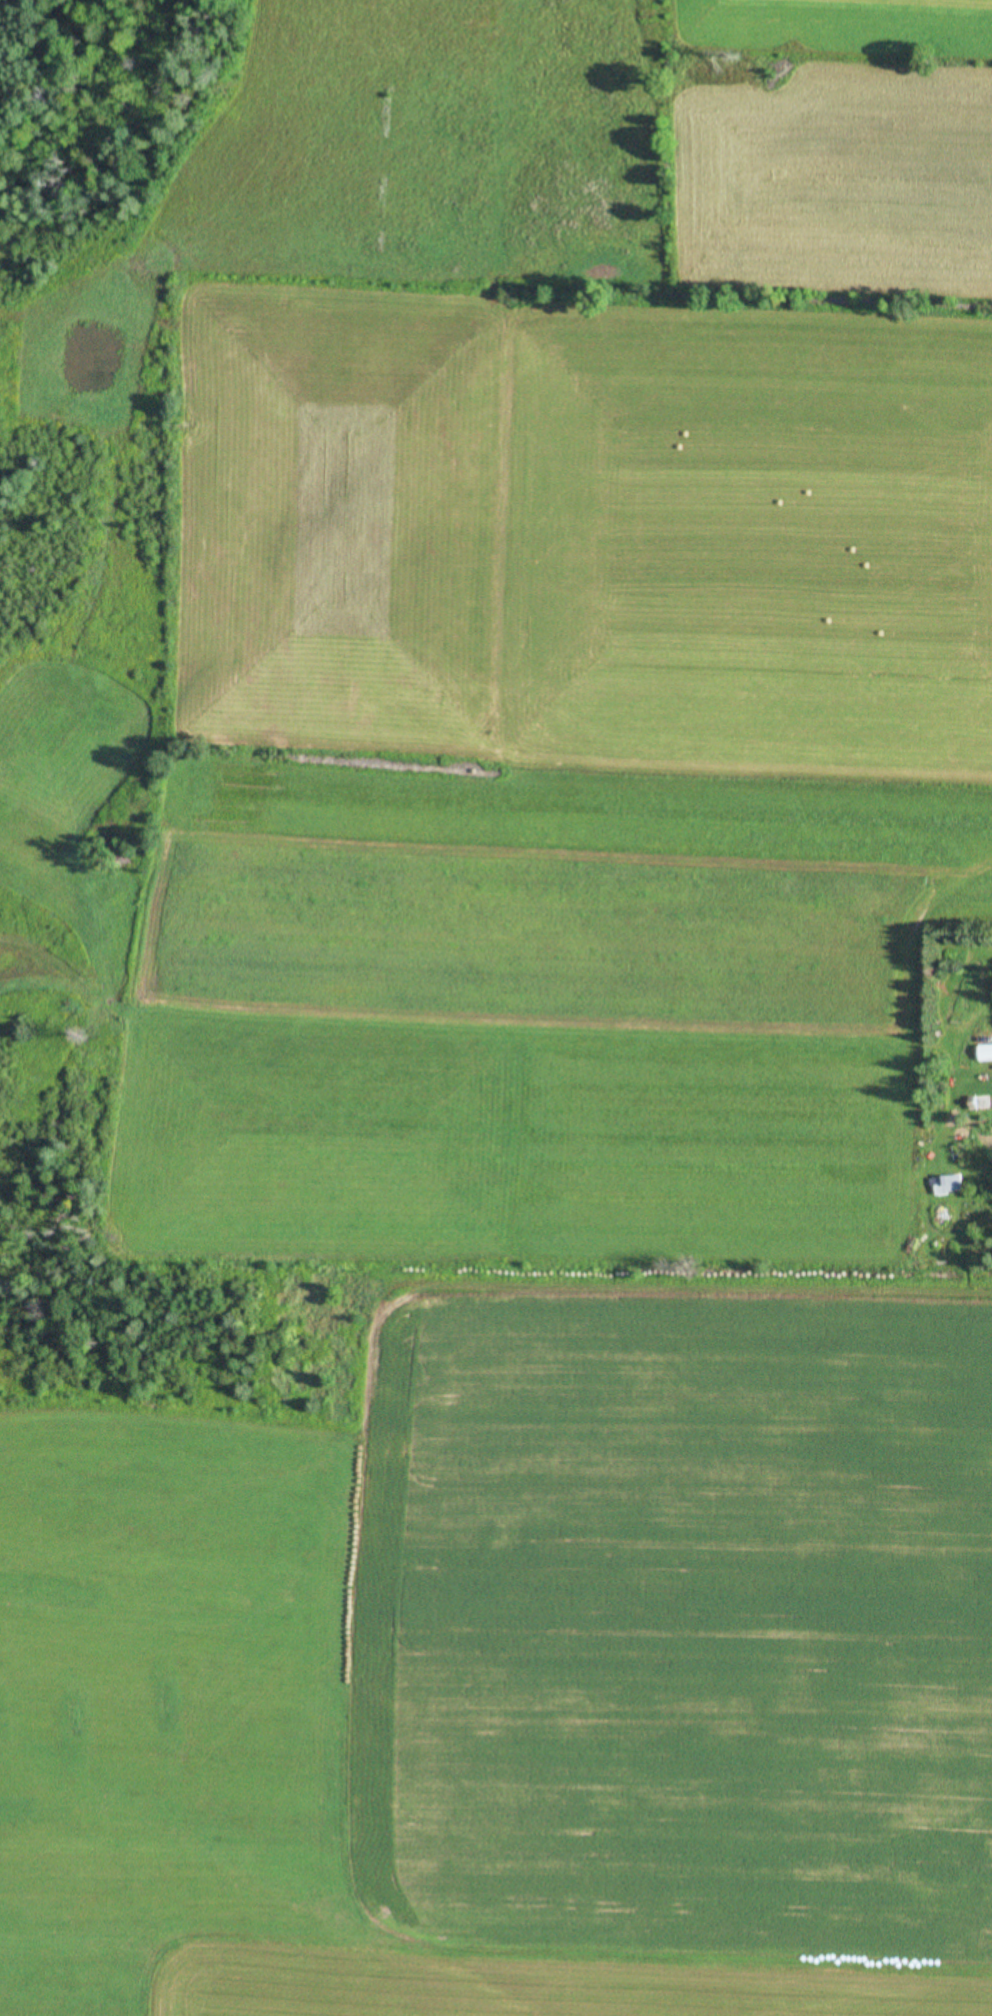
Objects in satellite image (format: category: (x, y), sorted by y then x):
building: (981, 1103)

